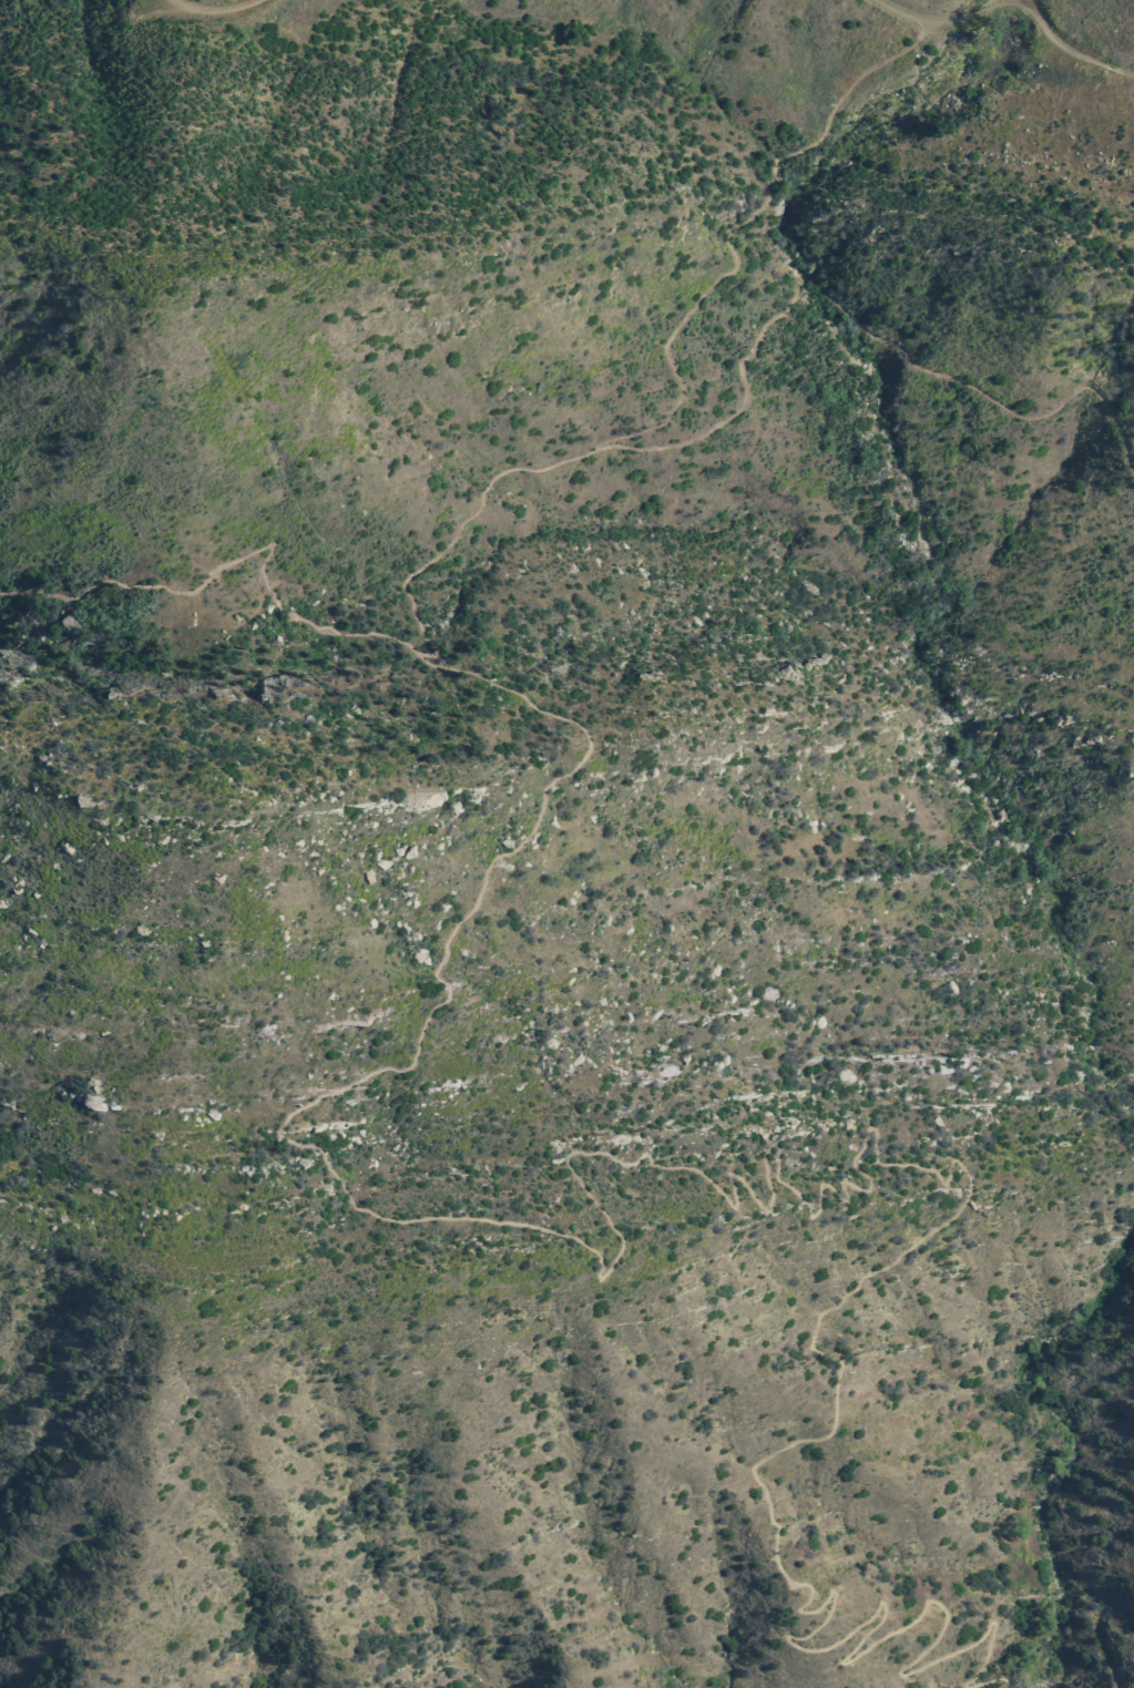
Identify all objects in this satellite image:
road: (213, 4)
road: (933, 11)
road: (1067, 45)
road: (736, 232)
road: (559, 468)
road: (806, 1203)

